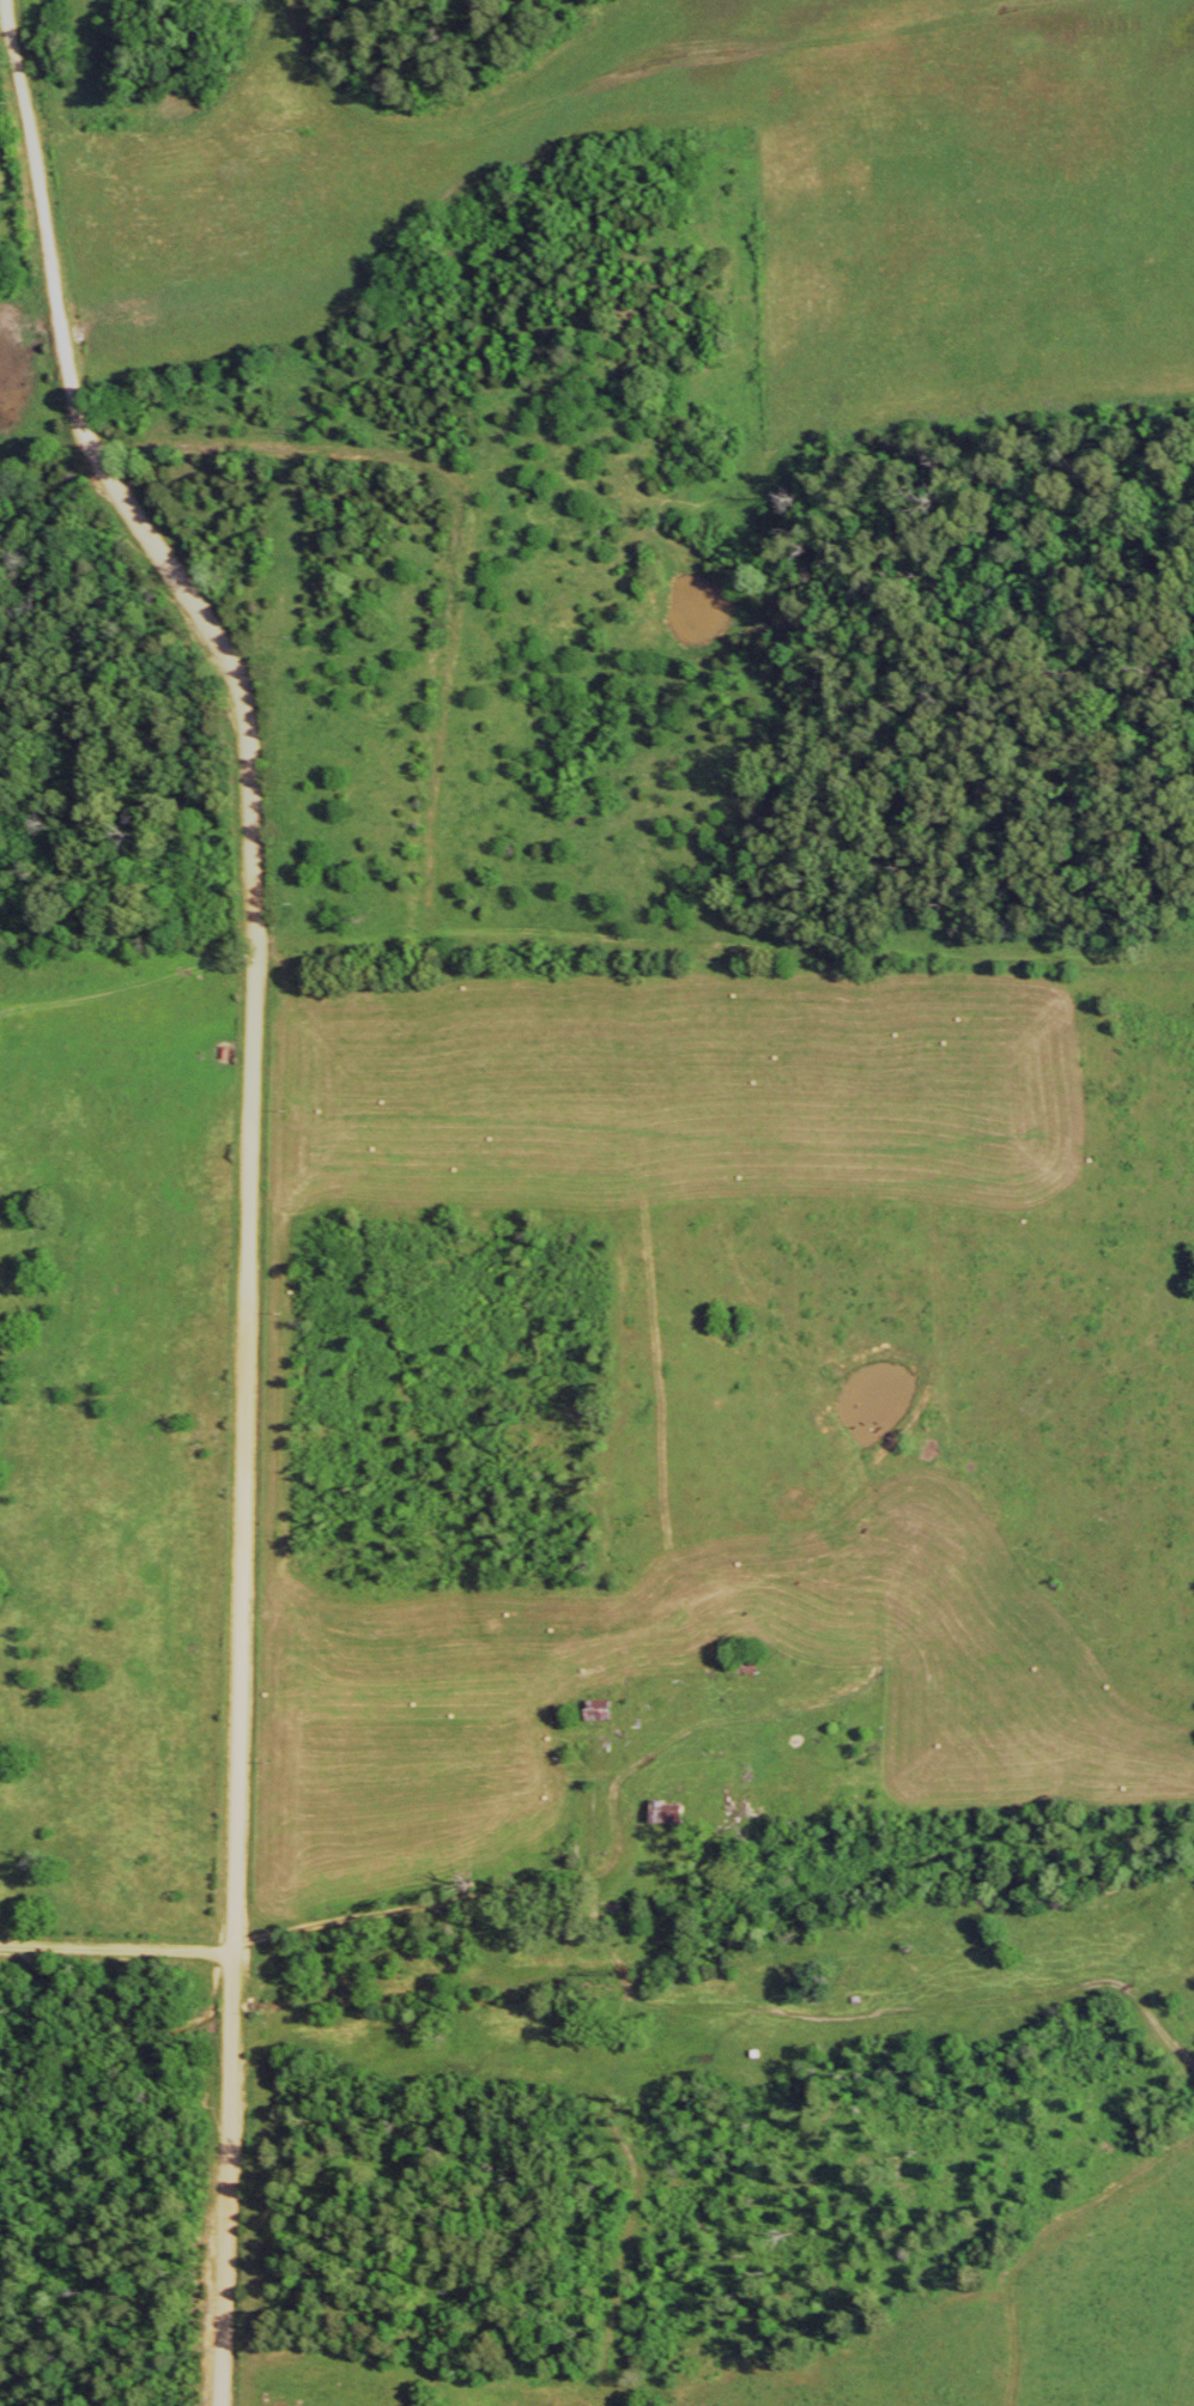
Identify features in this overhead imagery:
road: (253, 950)
building: (599, 1728)
building: (677, 1822)
road: (450, 1902)
road: (116, 1947)
road: (225, 2178)

